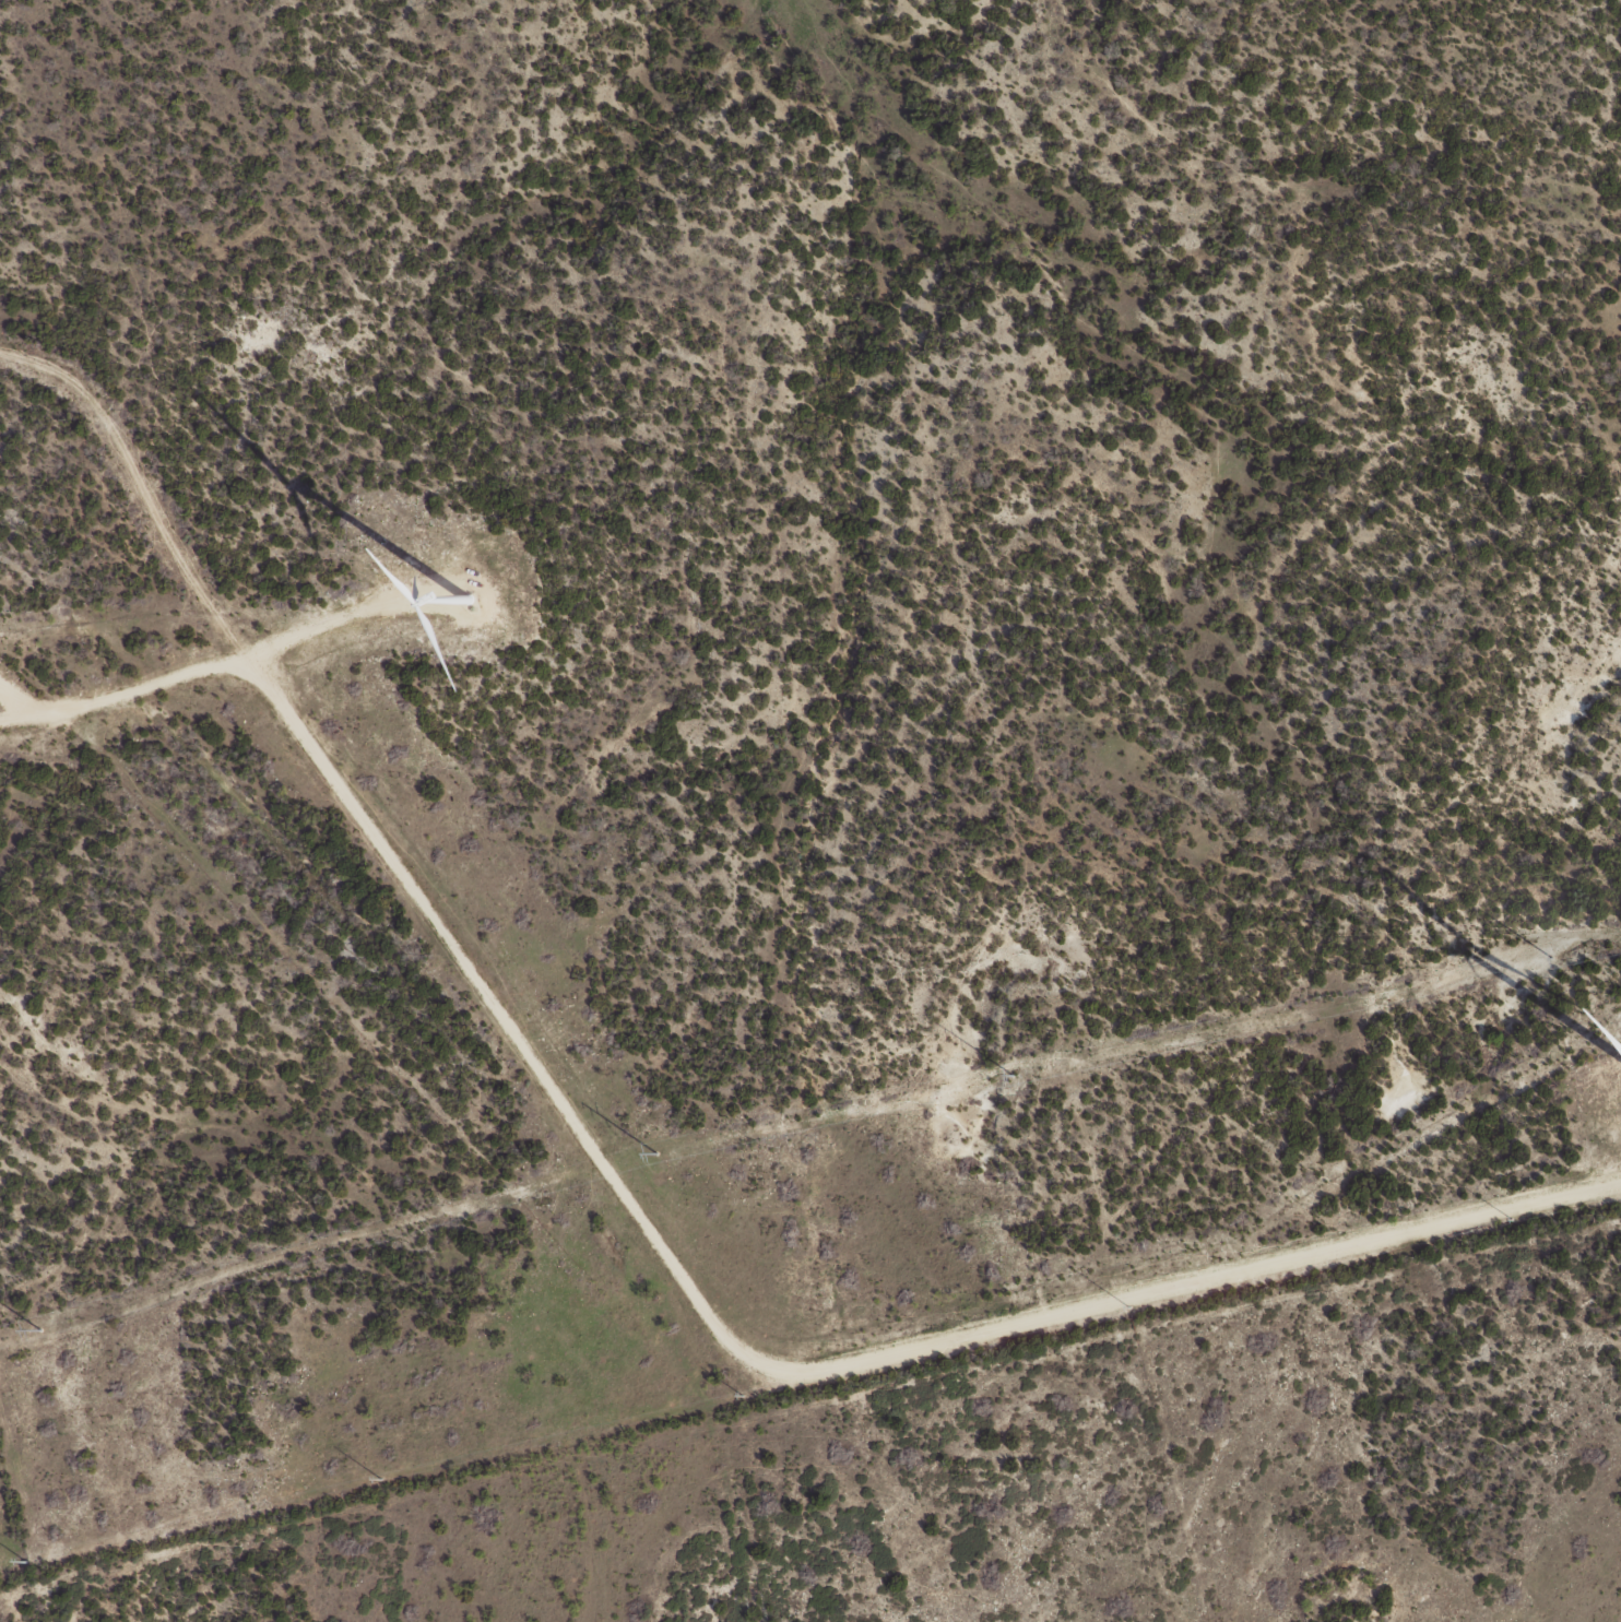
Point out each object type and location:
wind turbine: (481, 600)
power tower: (1546, 959)
power tower: (1008, 1076)
power tower: (653, 1155)
road: (653, 1188)
power tower: (1512, 1219)
power tower: (1126, 1305)
power tower: (37, 1331)
power tower: (745, 1394)
power tower: (382, 1478)
power tower: (27, 1561)

